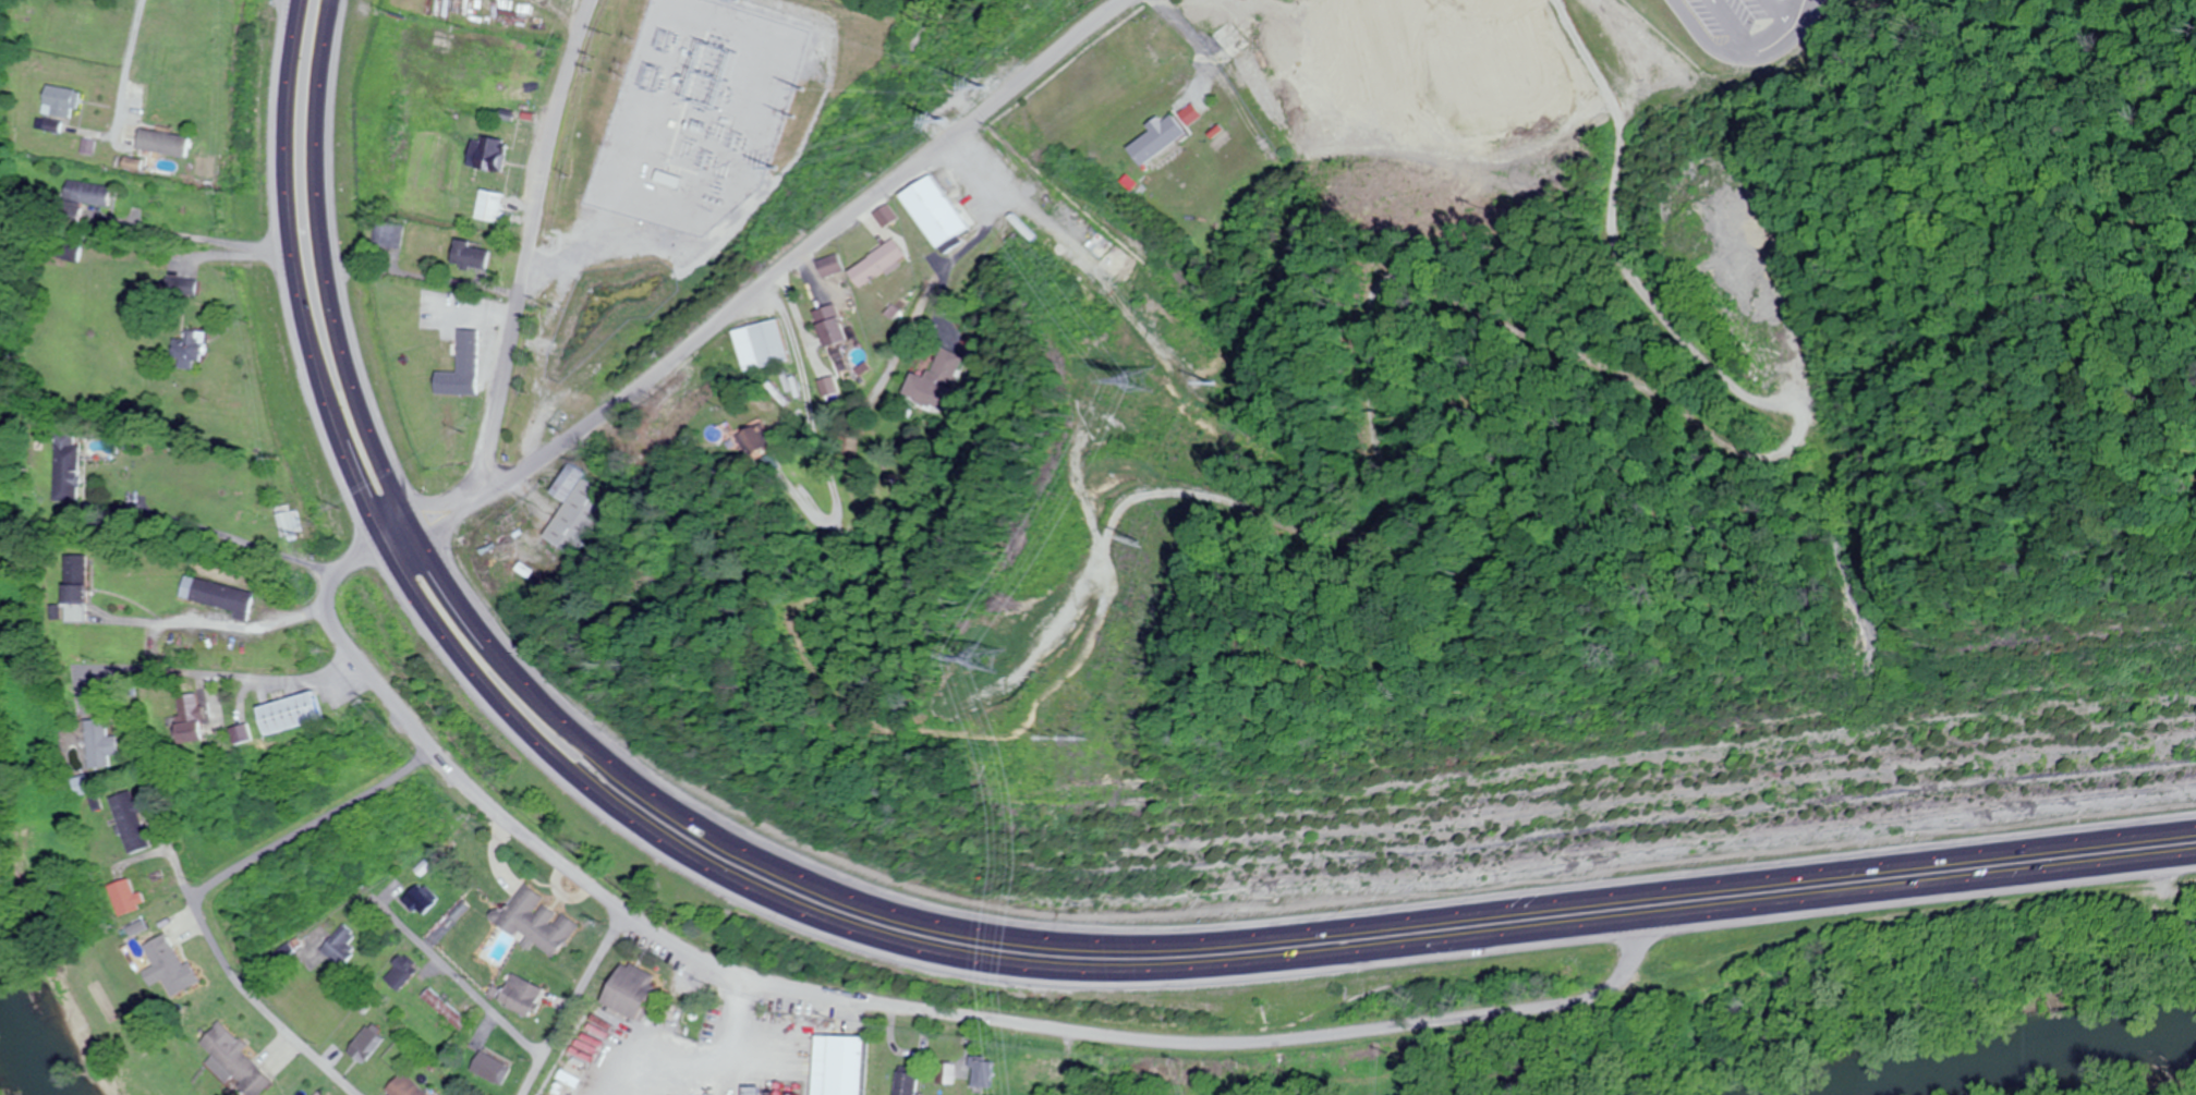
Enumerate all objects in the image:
building: (747, 9)
road: (1770, 16)
road: (1726, 26)
building: (1227, 39)
building: (1143, 48)
road: (1737, 52)
building: (737, 62)
road: (130, 65)
building: (1467, 101)
building: (62, 107)
building: (707, 109)
power substation: (695, 113)
building: (1154, 138)
building: (161, 141)
building: (488, 154)
building: (640, 168)
building: (93, 193)
road: (647, 199)
building: (488, 206)
building: (932, 212)
building: (885, 216)
building: (1089, 246)
road: (818, 250)
building: (469, 257)
building: (877, 265)
building: (830, 267)
road: (521, 279)
building: (191, 287)
building: (830, 326)
building: (761, 345)
building: (192, 350)
building: (465, 353)
building: (548, 374)
power tower: (1139, 379)
building: (936, 381)
building: (756, 439)
building: (72, 466)
building: (574, 509)
building: (291, 523)
power tower: (1126, 547)
building: (80, 587)
building: (219, 596)
road: (220, 619)
power tower: (986, 656)
road: (233, 678)
building: (290, 714)
building: (192, 720)
building: (242, 734)
building: (105, 745)
power tower: (1040, 746)
building: (85, 787)
building: (135, 823)
road: (319, 827)
building: (421, 898)
building: (129, 899)
building: (536, 922)
road: (960, 926)
building: (342, 946)
road: (933, 958)
building: (171, 962)
building: (403, 971)
road: (469, 974)
road: (246, 975)
building: (629, 989)
building: (522, 995)
road: (881, 997)
road: (577, 1000)
building: (448, 1009)
river: (38, 1017)
building: (368, 1045)
river: (2017, 1061)
building: (236, 1062)
building: (845, 1066)
building: (493, 1068)
building: (981, 1073)
building: (1042, 1073)
building: (945, 1074)
building: (907, 1081)
building: (408, 1086)

